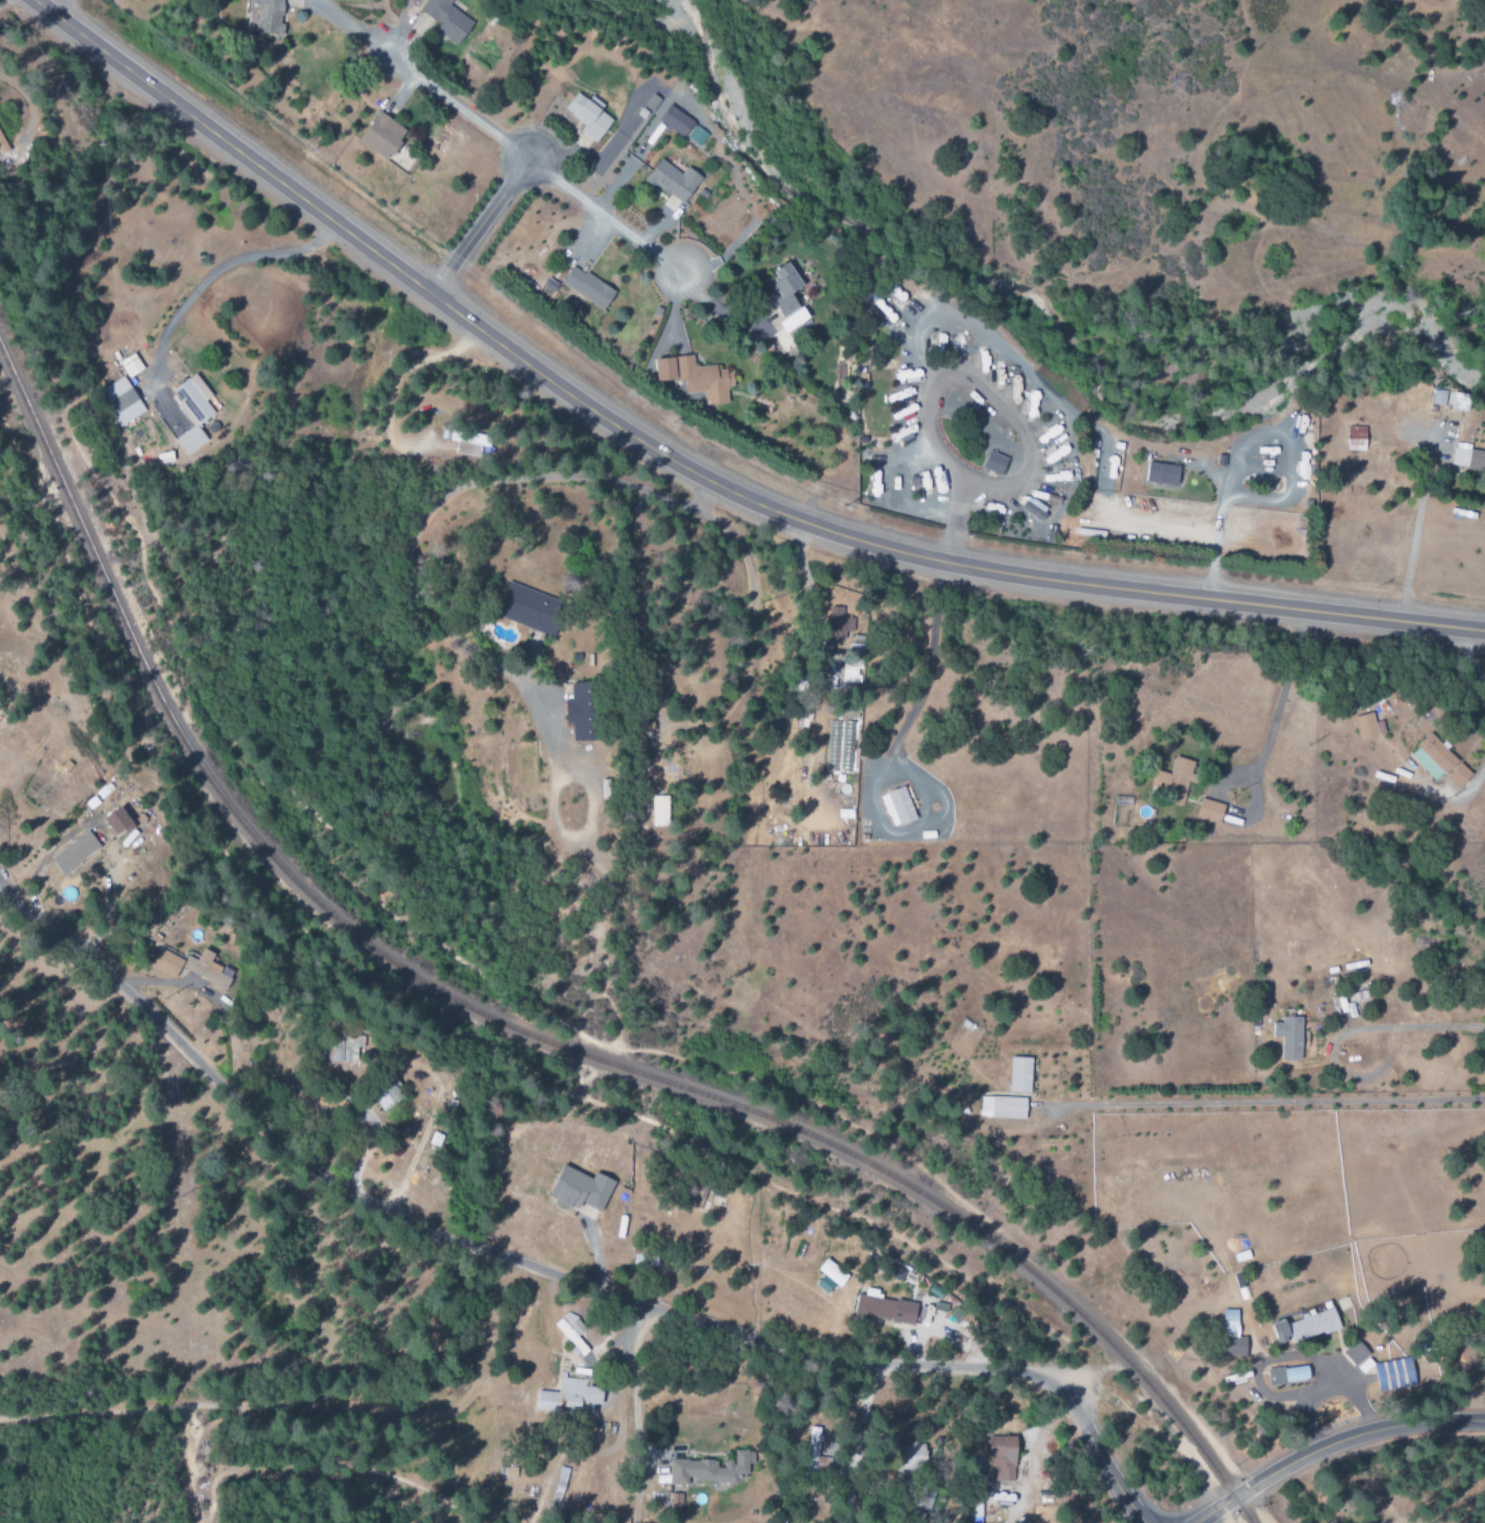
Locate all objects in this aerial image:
building: (268, 16)
building: (446, 20)
building: (651, 103)
road: (450, 105)
building: (588, 116)
building: (675, 121)
building: (382, 136)
building: (697, 136)
building: (2, 146)
building: (673, 181)
road: (610, 221)
road: (477, 228)
building: (587, 288)
building: (786, 298)
building: (130, 365)
building: (696, 378)
building: (194, 398)
building: (1450, 400)
building: (121, 402)
building: (1355, 439)
building: (190, 441)
building: (1468, 458)
building: (994, 463)
road: (692, 473)
building: (1161, 474)
road: (439, 501)
building: (1034, 509)
road: (1415, 531)
road: (1216, 551)
building: (529, 609)
building: (839, 625)
road: (751, 637)
building: (851, 672)
road: (1279, 695)
building: (579, 711)
building: (1368, 727)
building: (641, 733)
building: (1439, 761)
building: (1174, 780)
building: (897, 807)
building: (659, 810)
building: (1209, 811)
building: (116, 821)
building: (74, 853)
building: (166, 963)
building: (209, 971)
railway: (529, 1033)
building: (1289, 1037)
building: (344, 1049)
building: (1020, 1075)
building: (384, 1091)
road: (1263, 1103)
building: (1002, 1107)
building: (579, 1189)
building: (644, 1260)
building: (892, 1272)
road: (551, 1273)
building: (829, 1276)
building: (882, 1308)
building: (1230, 1323)
building: (1304, 1326)
building: (571, 1332)
building: (1234, 1346)
building: (1394, 1374)
building: (1288, 1375)
building: (562, 1395)
building: (592, 1395)
road: (633, 1414)
road: (1329, 1443)
building: (812, 1447)
building: (913, 1457)
building: (1002, 1458)
building: (711, 1470)
building: (560, 1484)
building: (676, 1500)

